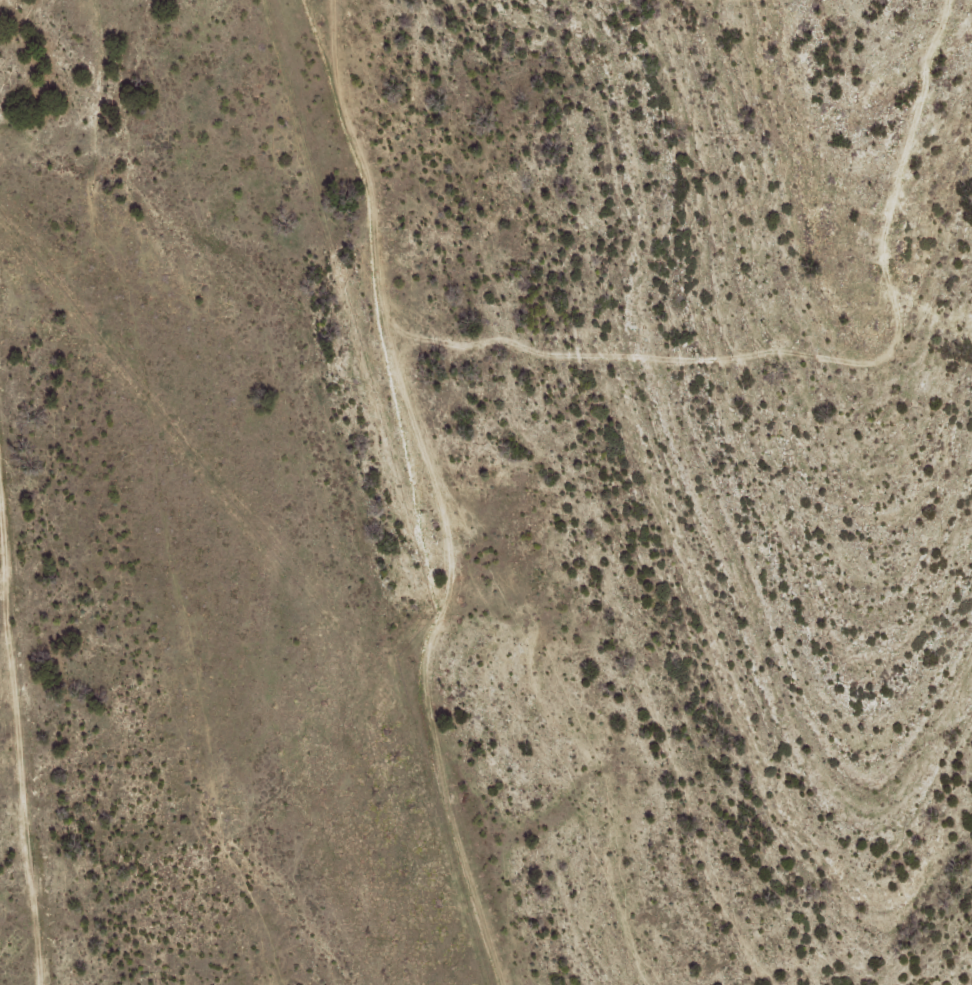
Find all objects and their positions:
road: (942, 225)
road: (170, 492)

